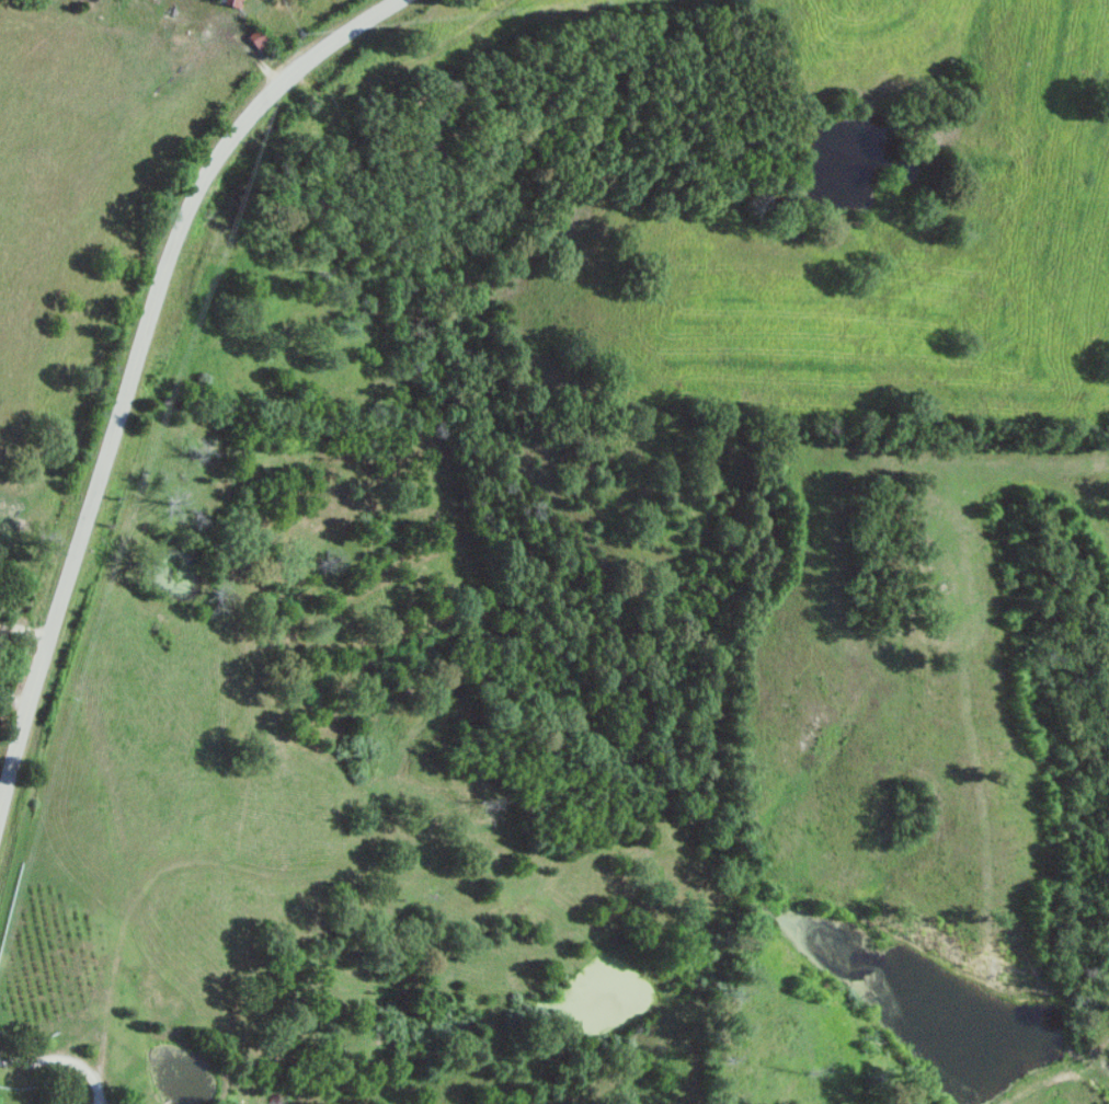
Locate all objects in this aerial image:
building: (230, 3)
road: (134, 358)
road: (62, 1058)

